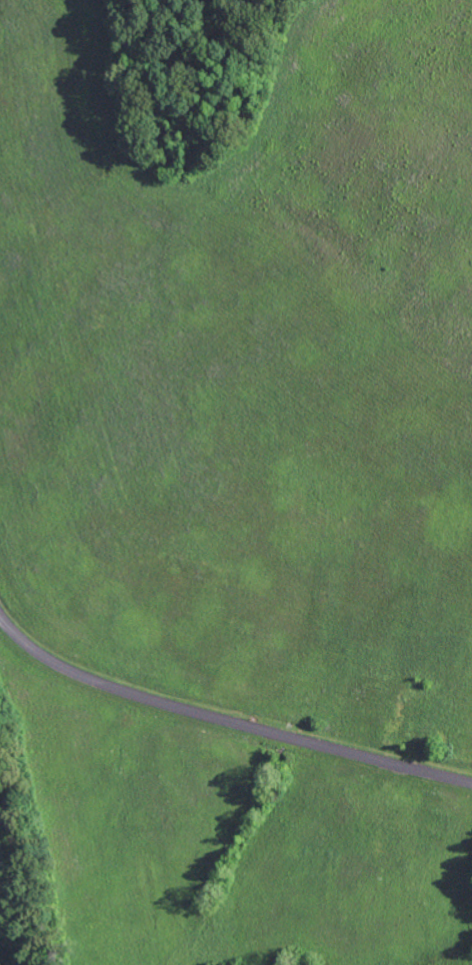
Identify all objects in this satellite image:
road: (226, 720)

